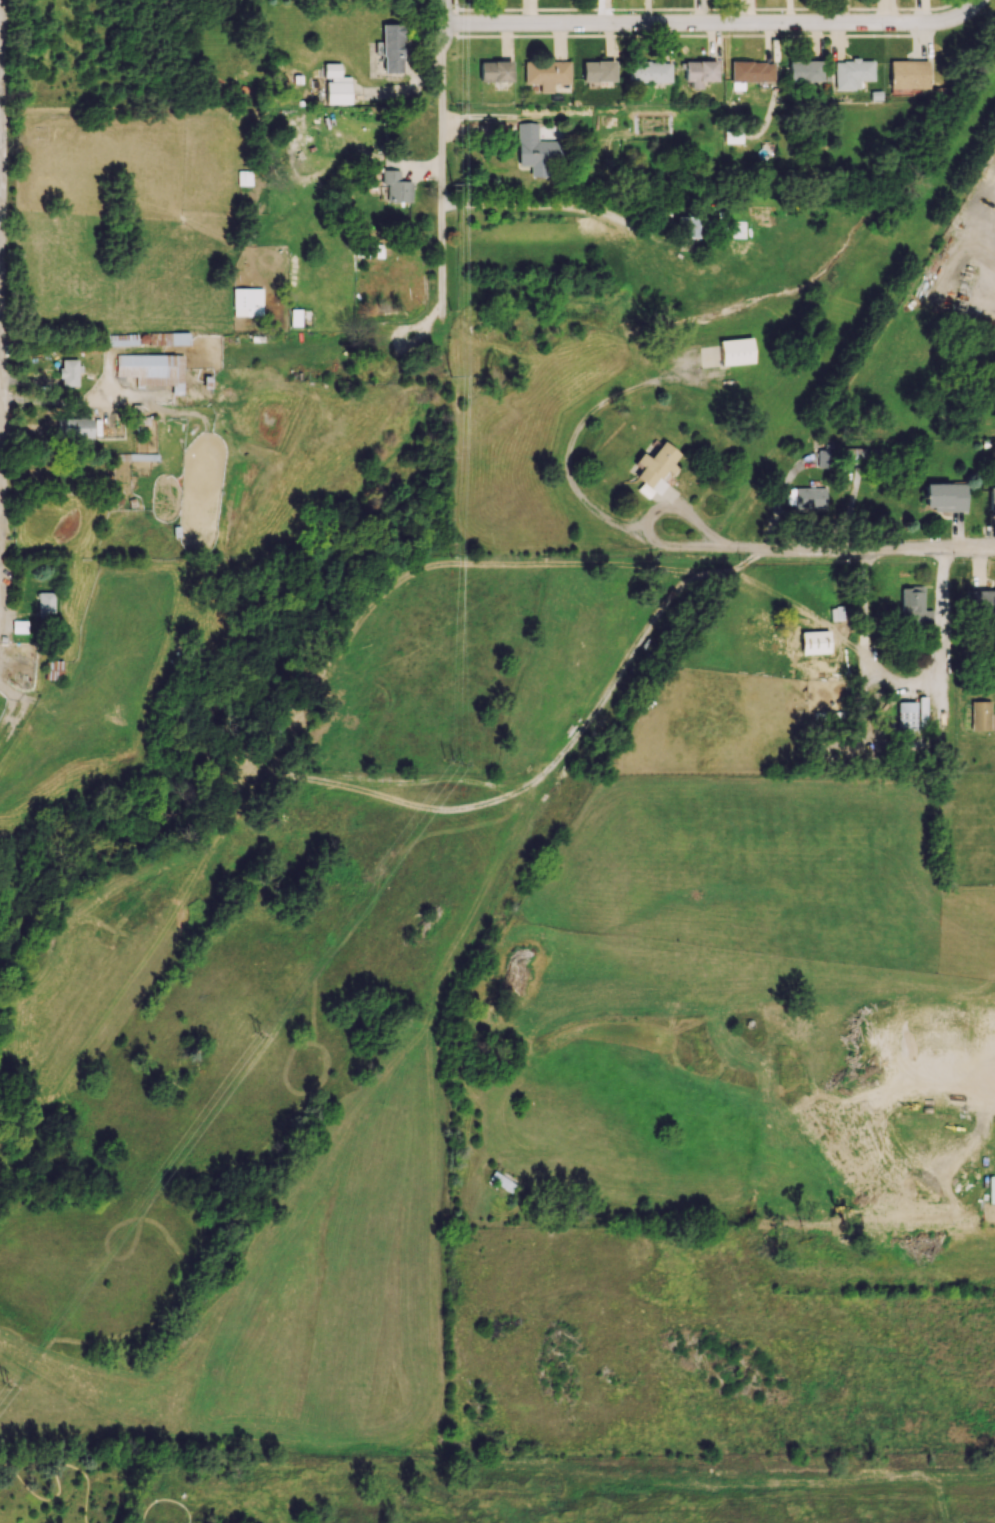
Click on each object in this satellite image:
road: (715, 24)
building: (392, 47)
building: (495, 71)
building: (597, 71)
building: (648, 71)
building: (751, 71)
building: (803, 71)
building: (699, 72)
building: (851, 73)
building: (545, 74)
building: (907, 74)
building: (336, 85)
building: (733, 137)
building: (536, 151)
road: (442, 154)
building: (244, 177)
building: (395, 185)
road: (552, 206)
building: (371, 250)
road: (2, 278)
building: (247, 301)
power tower: (449, 309)
building: (735, 351)
building: (152, 370)
building: (69, 372)
building: (75, 427)
road: (69, 436)
building: (824, 458)
building: (656, 464)
building: (122, 473)
road: (574, 474)
building: (810, 497)
building: (944, 497)
building: (991, 499)
road: (1, 503)
power tower: (450, 552)
road: (859, 552)
building: (982, 600)
building: (45, 602)
building: (913, 606)
building: (19, 626)
building: (54, 669)
road: (905, 687)
building: (922, 712)
building: (906, 715)
building: (981, 716)
road: (557, 757)
power tower: (455, 764)
road: (433, 777)
power tower: (202, 1106)
building: (502, 1180)
building: (994, 1188)
road: (60, 1478)
landfill: (620, 1496)
road: (171, 1522)

